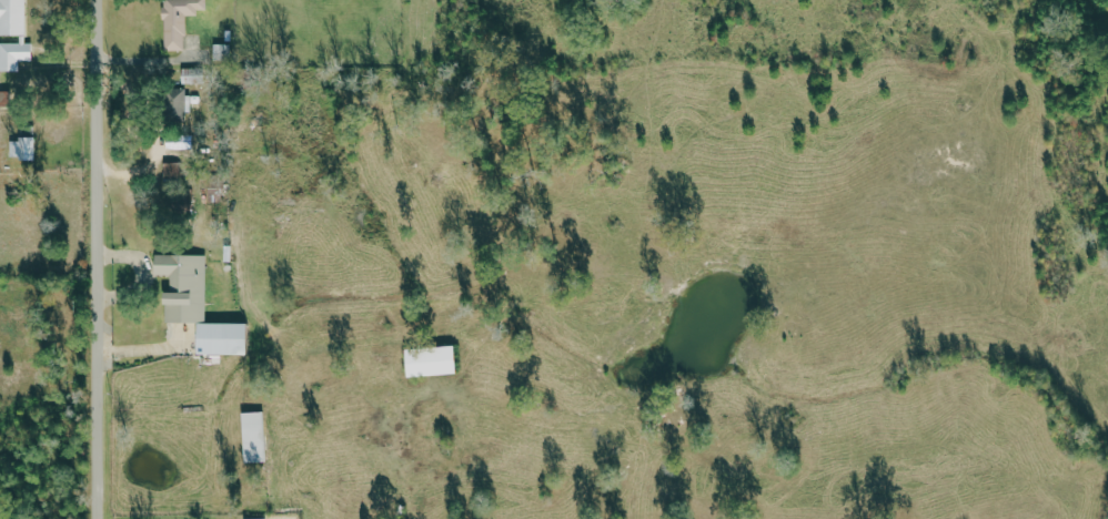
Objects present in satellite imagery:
building: (13, 18)
building: (179, 21)
building: (193, 75)
building: (177, 104)
building: (23, 147)
building: (173, 171)
building: (184, 202)
road: (94, 259)
building: (184, 286)
building: (430, 360)
building: (254, 437)
building: (265, 518)

